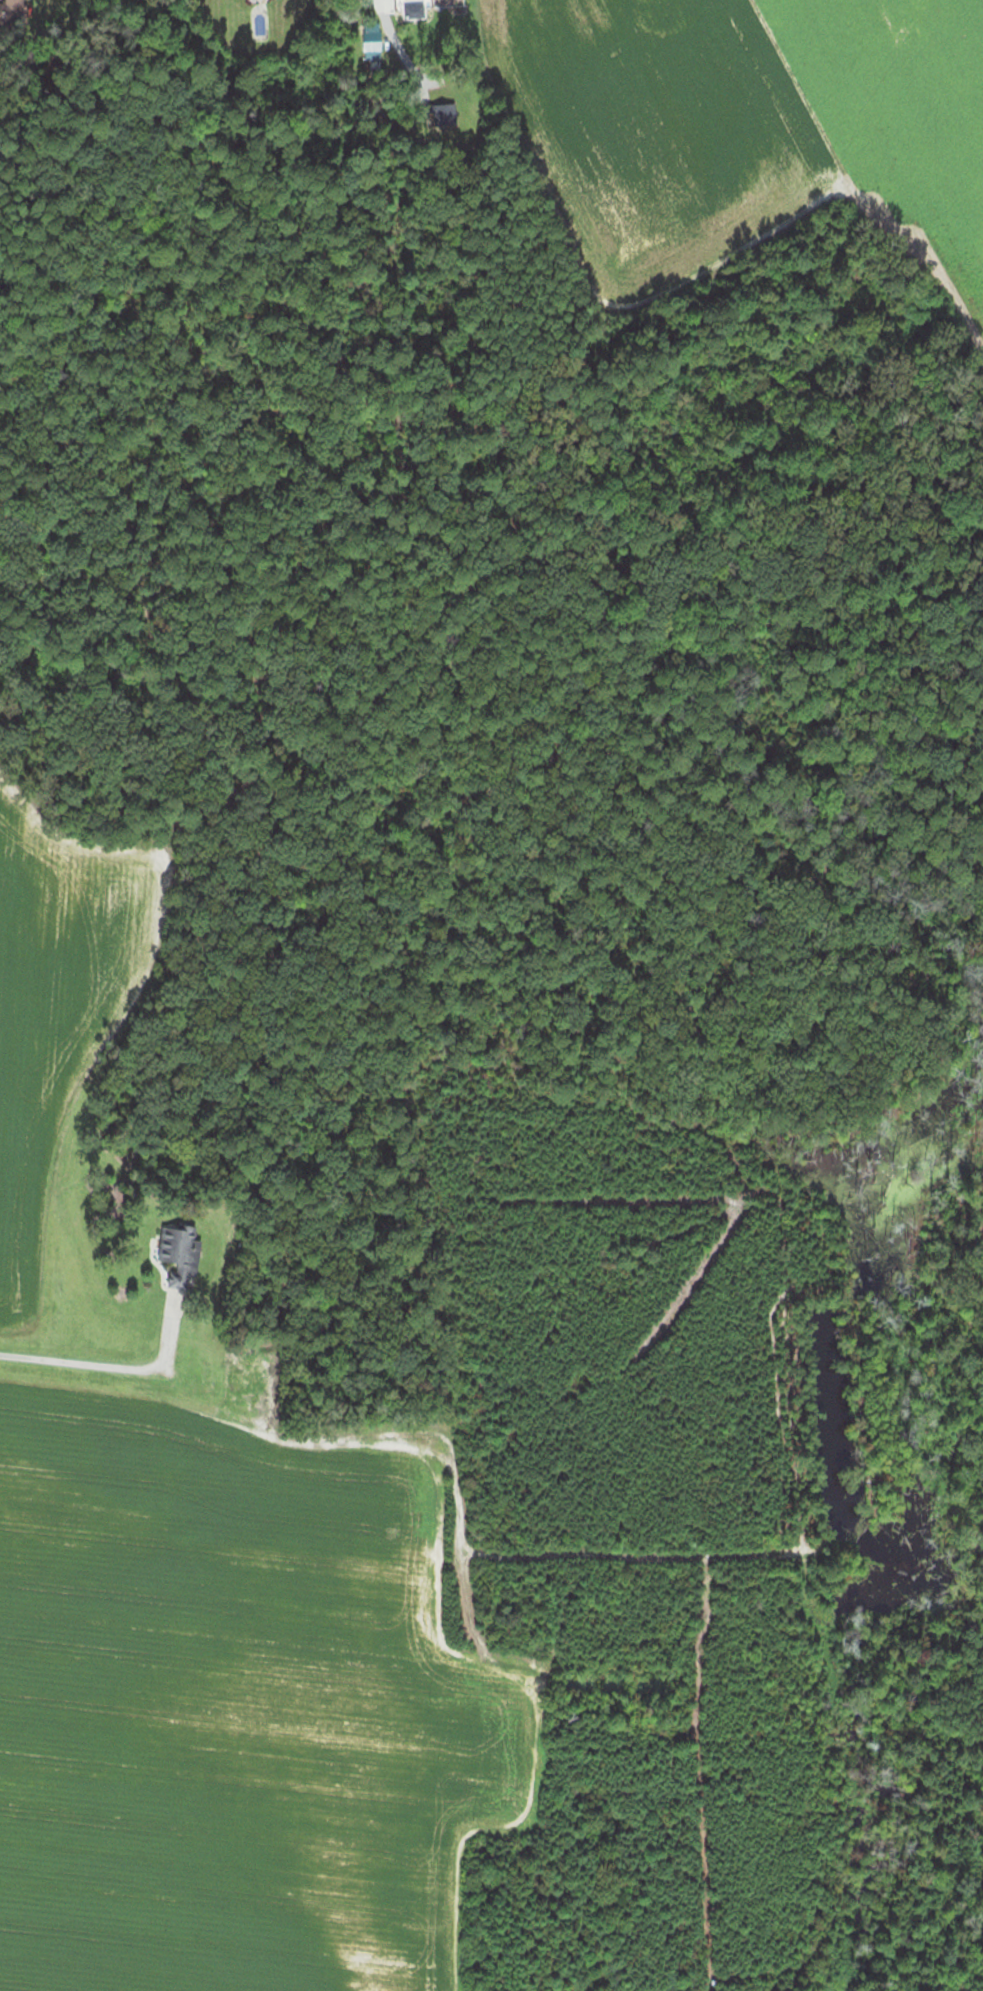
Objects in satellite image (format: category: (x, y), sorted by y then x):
building: (179, 1255)

